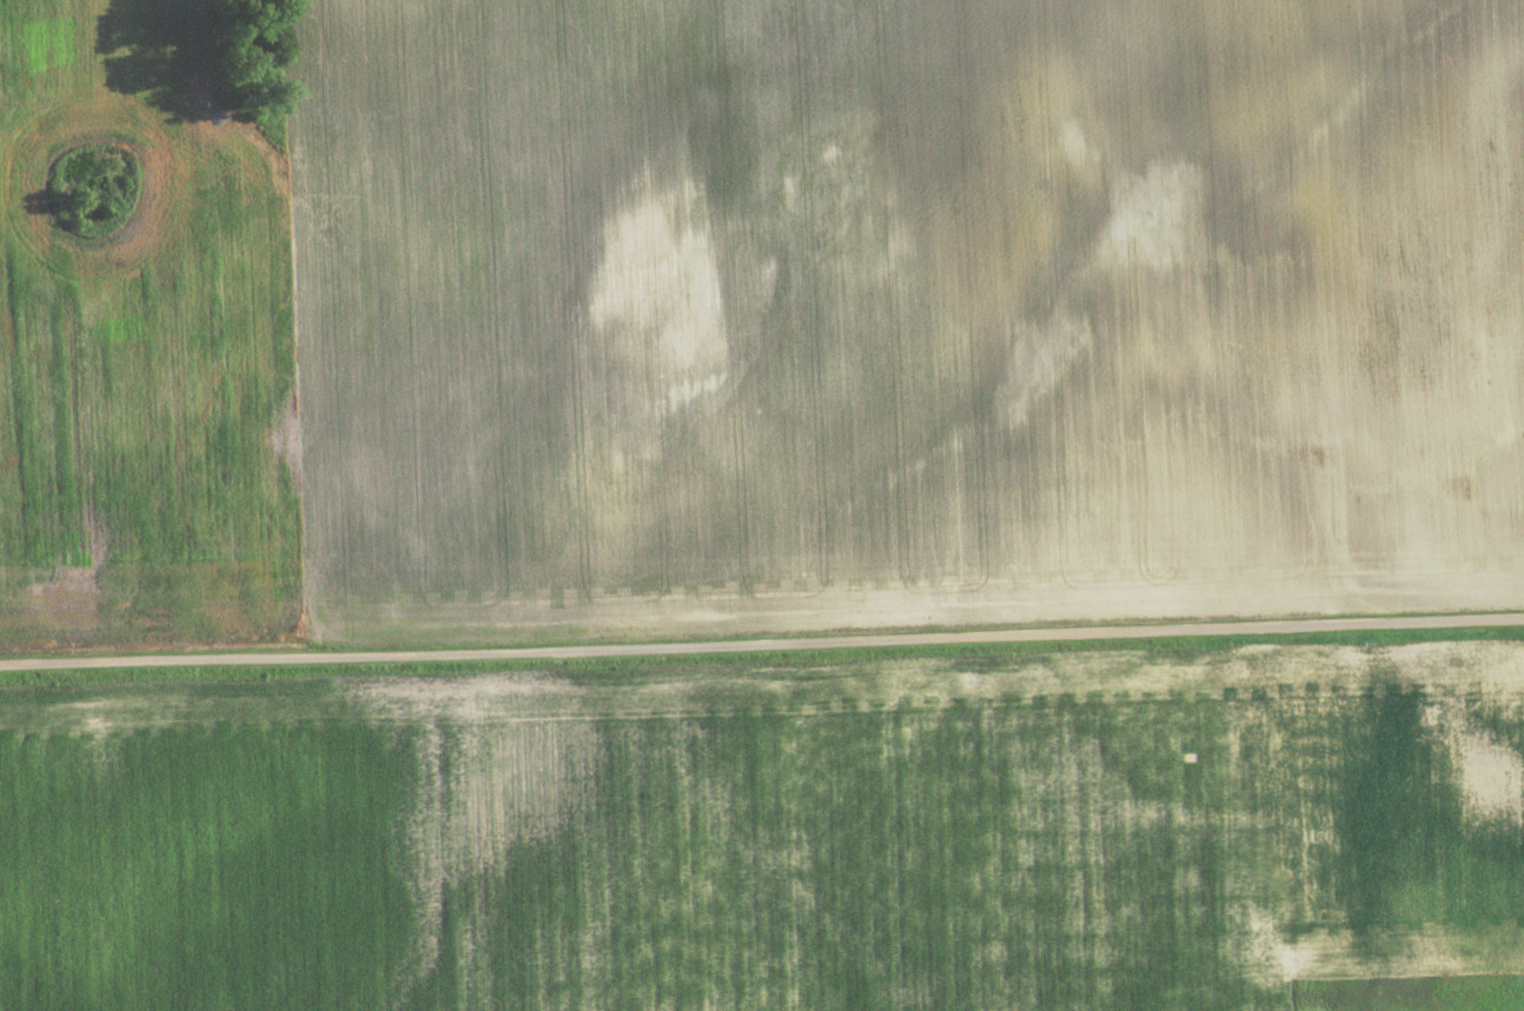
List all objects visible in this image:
road: (762, 648)

